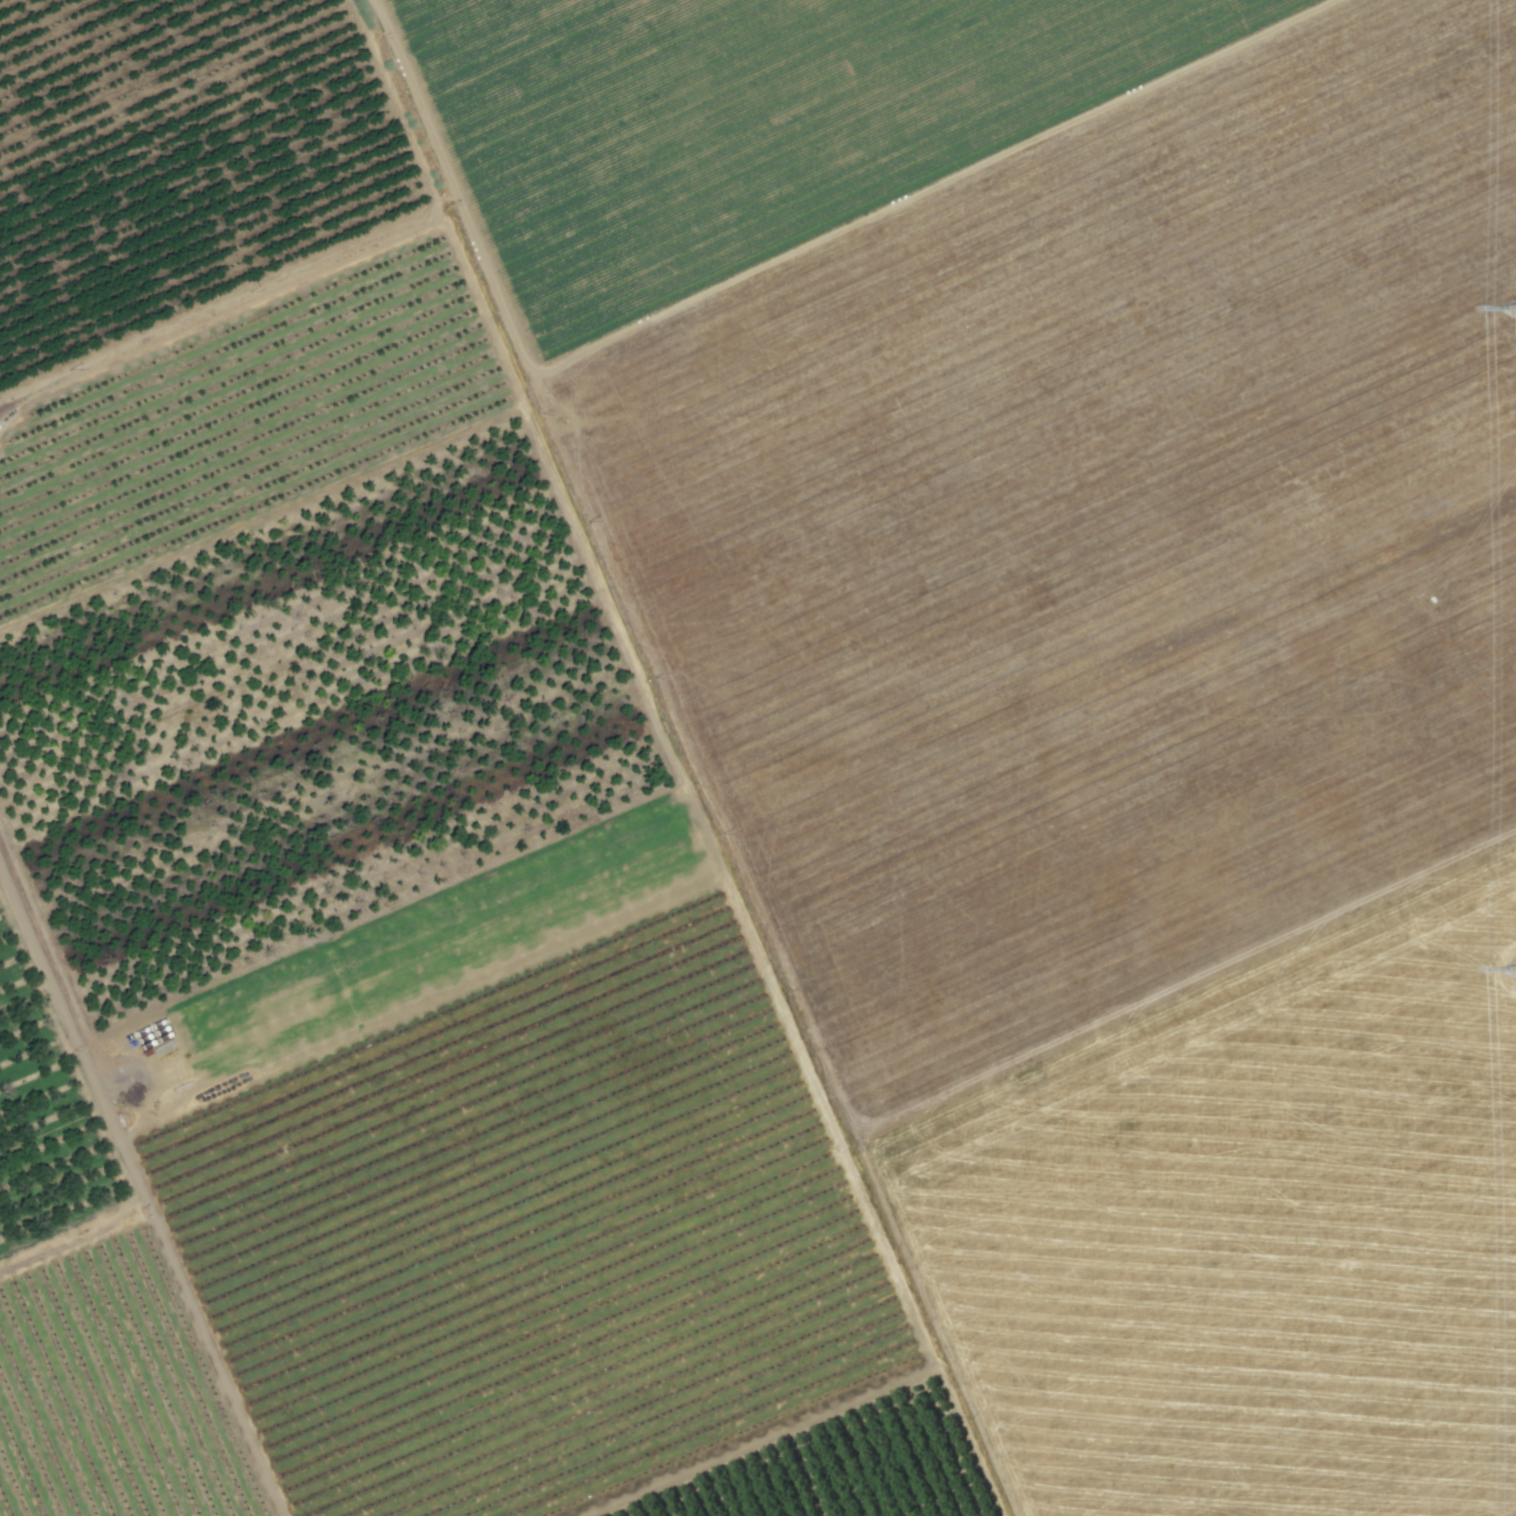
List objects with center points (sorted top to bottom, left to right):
road: (748, 272)

